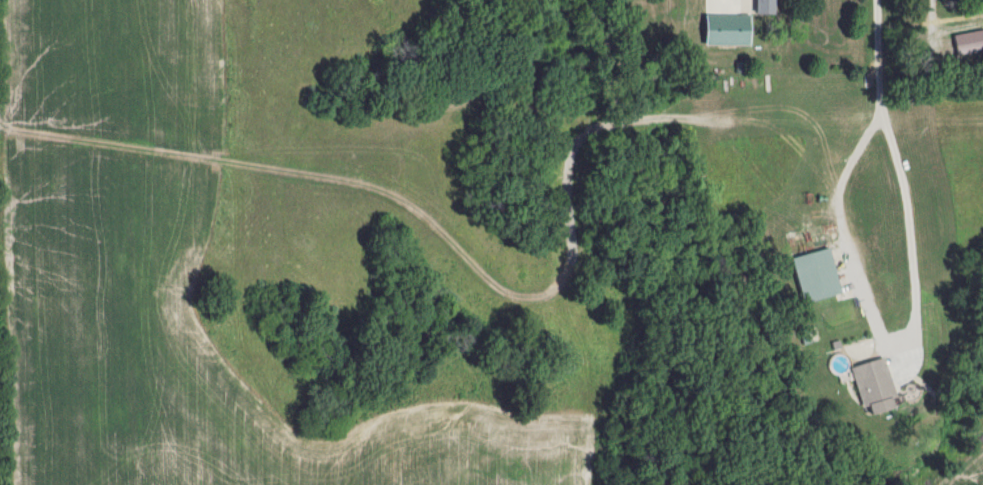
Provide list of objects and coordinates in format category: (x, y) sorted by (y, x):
road: (736, 5)
building: (766, 7)
road: (876, 28)
building: (969, 43)
building: (816, 275)
building: (875, 387)

